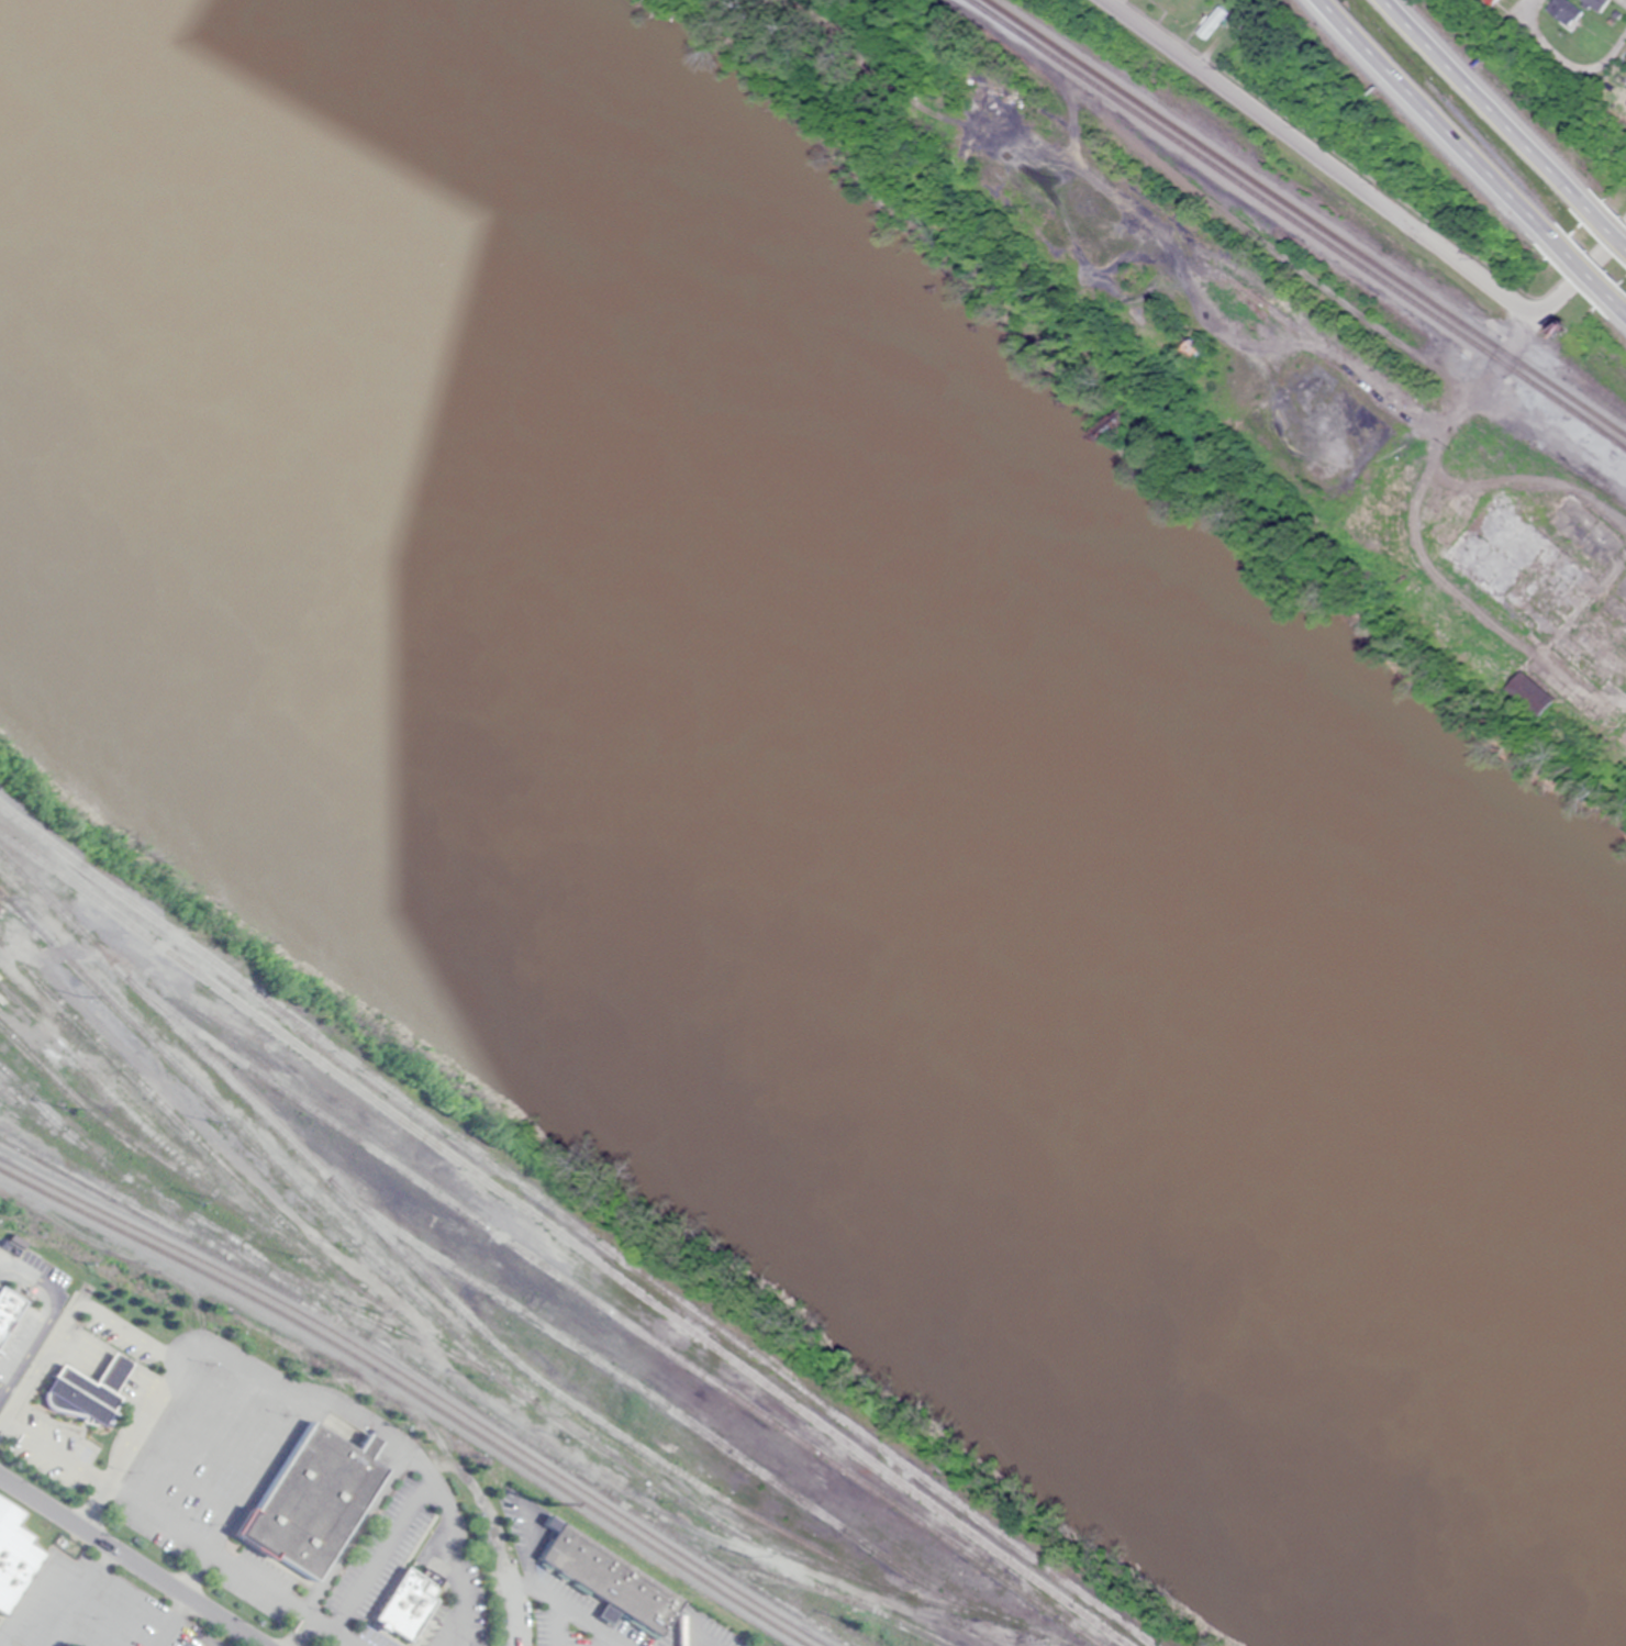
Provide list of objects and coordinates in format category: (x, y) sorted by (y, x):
road: (1530, 2)
building: (1596, 4)
building: (1562, 13)
building: (1210, 22)
road: (1577, 48)
road: (1492, 104)
building: (1624, 104)
road: (1433, 123)
road: (1316, 163)
railway: (1318, 212)
railway: (1304, 222)
road: (1607, 229)
road: (1581, 268)
road: (1581, 280)
road: (1616, 303)
river: (797, 782)
railway: (13, 1097)
railway: (52, 1116)
railway: (178, 1121)
railway: (113, 1131)
railway: (264, 1154)
railway: (180, 1215)
railway: (249, 1217)
railway: (575, 1226)
railway: (564, 1239)
road: (41, 1291)
railway: (312, 1292)
building: (8, 1310)
road: (69, 1312)
railway: (610, 1312)
road: (52, 1315)
railway: (478, 1331)
road: (78, 1354)
road: (111, 1373)
railway: (433, 1381)
railway: (423, 1387)
building: (86, 1391)
railway: (414, 1392)
road: (136, 1393)
road: (233, 1402)
railway: (657, 1402)
road: (388, 1438)
road: (208, 1441)
road: (129, 1446)
road: (55, 1453)
road: (182, 1477)
road: (247, 1492)
building: (310, 1495)
railway: (684, 1504)
road: (449, 1541)
road: (526, 1548)
road: (208, 1550)
road: (381, 1554)
building: (12, 1558)
road: (133, 1559)
railway: (824, 1567)
building: (604, 1573)
railway: (789, 1579)
road: (542, 1592)
road: (26, 1593)
road: (79, 1595)
building: (402, 1602)
road: (118, 1617)
road: (170, 1620)
road: (556, 1624)
road: (444, 1630)
road: (332, 1631)
road: (692, 1642)
road: (210, 1645)
road: (620, 1645)

